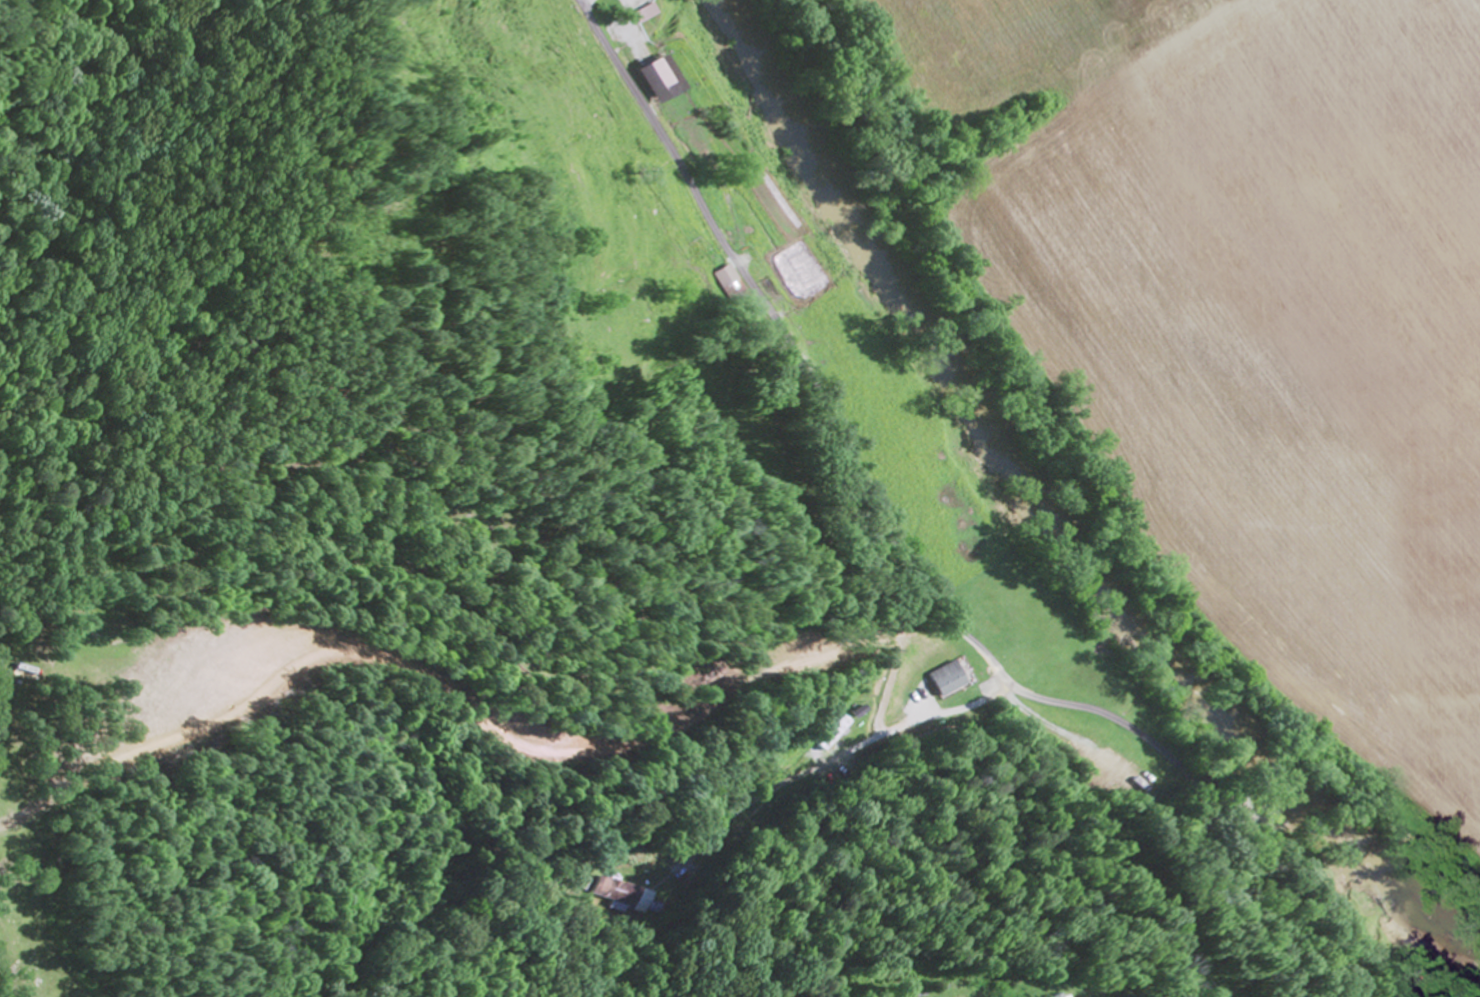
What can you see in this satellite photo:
building: (659, 81)
building: (727, 286)
road: (619, 407)
river: (1054, 518)
road: (913, 569)
building: (944, 679)

